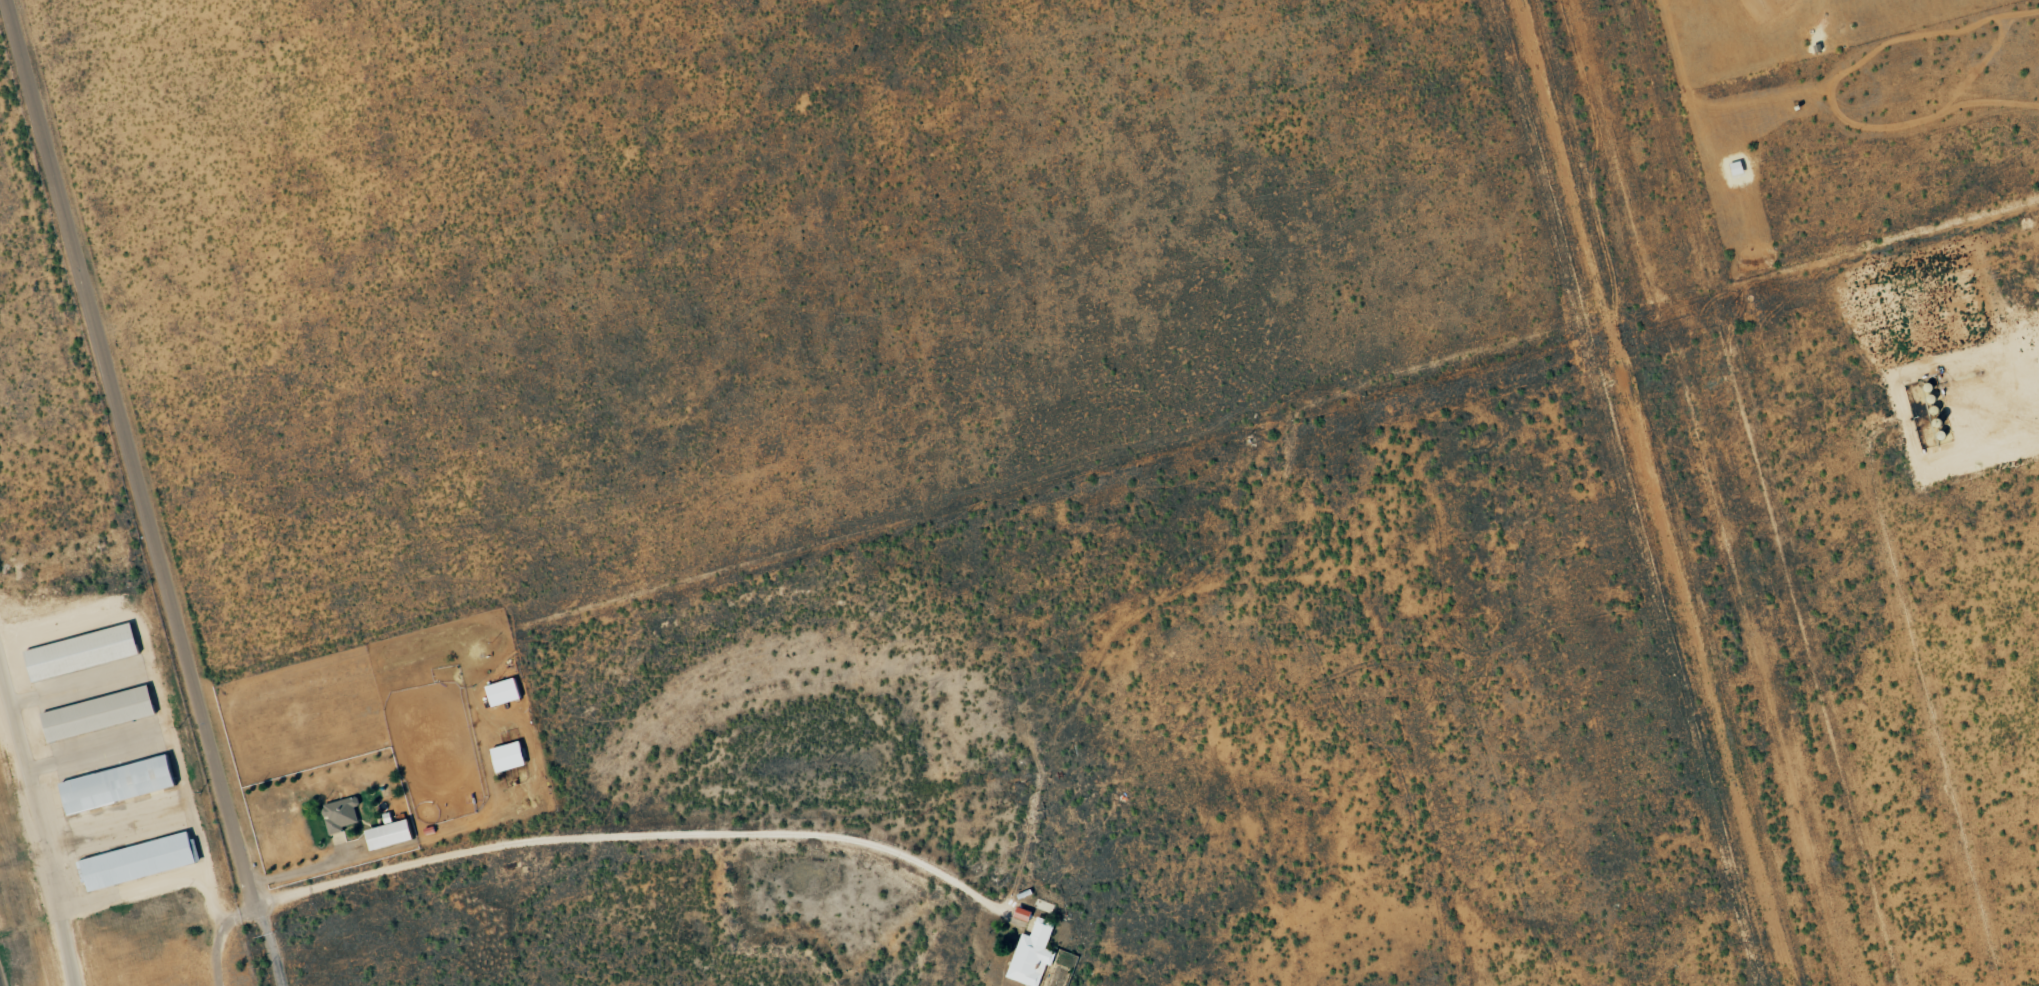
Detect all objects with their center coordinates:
road: (142, 493)
building: (83, 652)
airport: (87, 668)
building: (99, 714)
building: (119, 784)
building: (340, 814)
building: (390, 835)
road: (639, 836)
building: (138, 862)
road: (305, 868)
building: (1024, 914)
building: (1033, 954)

